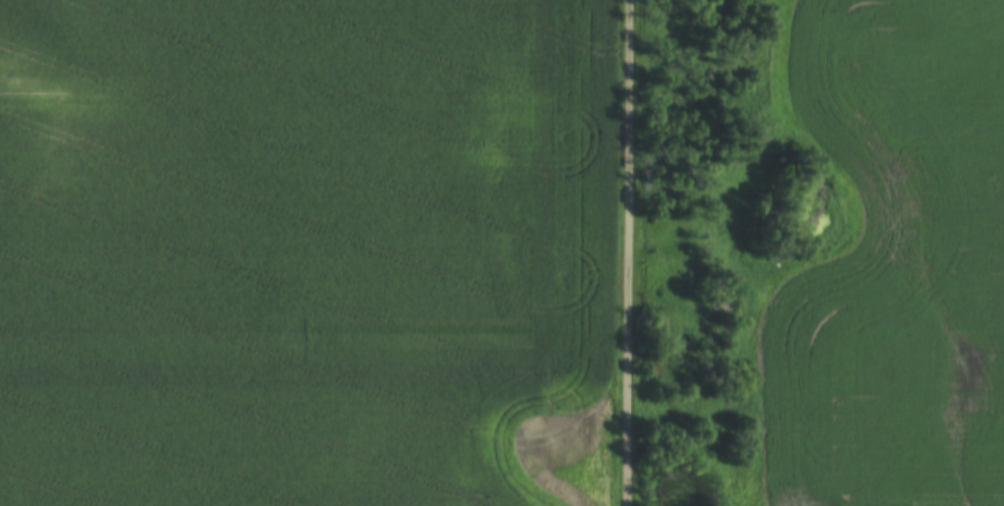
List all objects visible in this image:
road: (628, 253)

